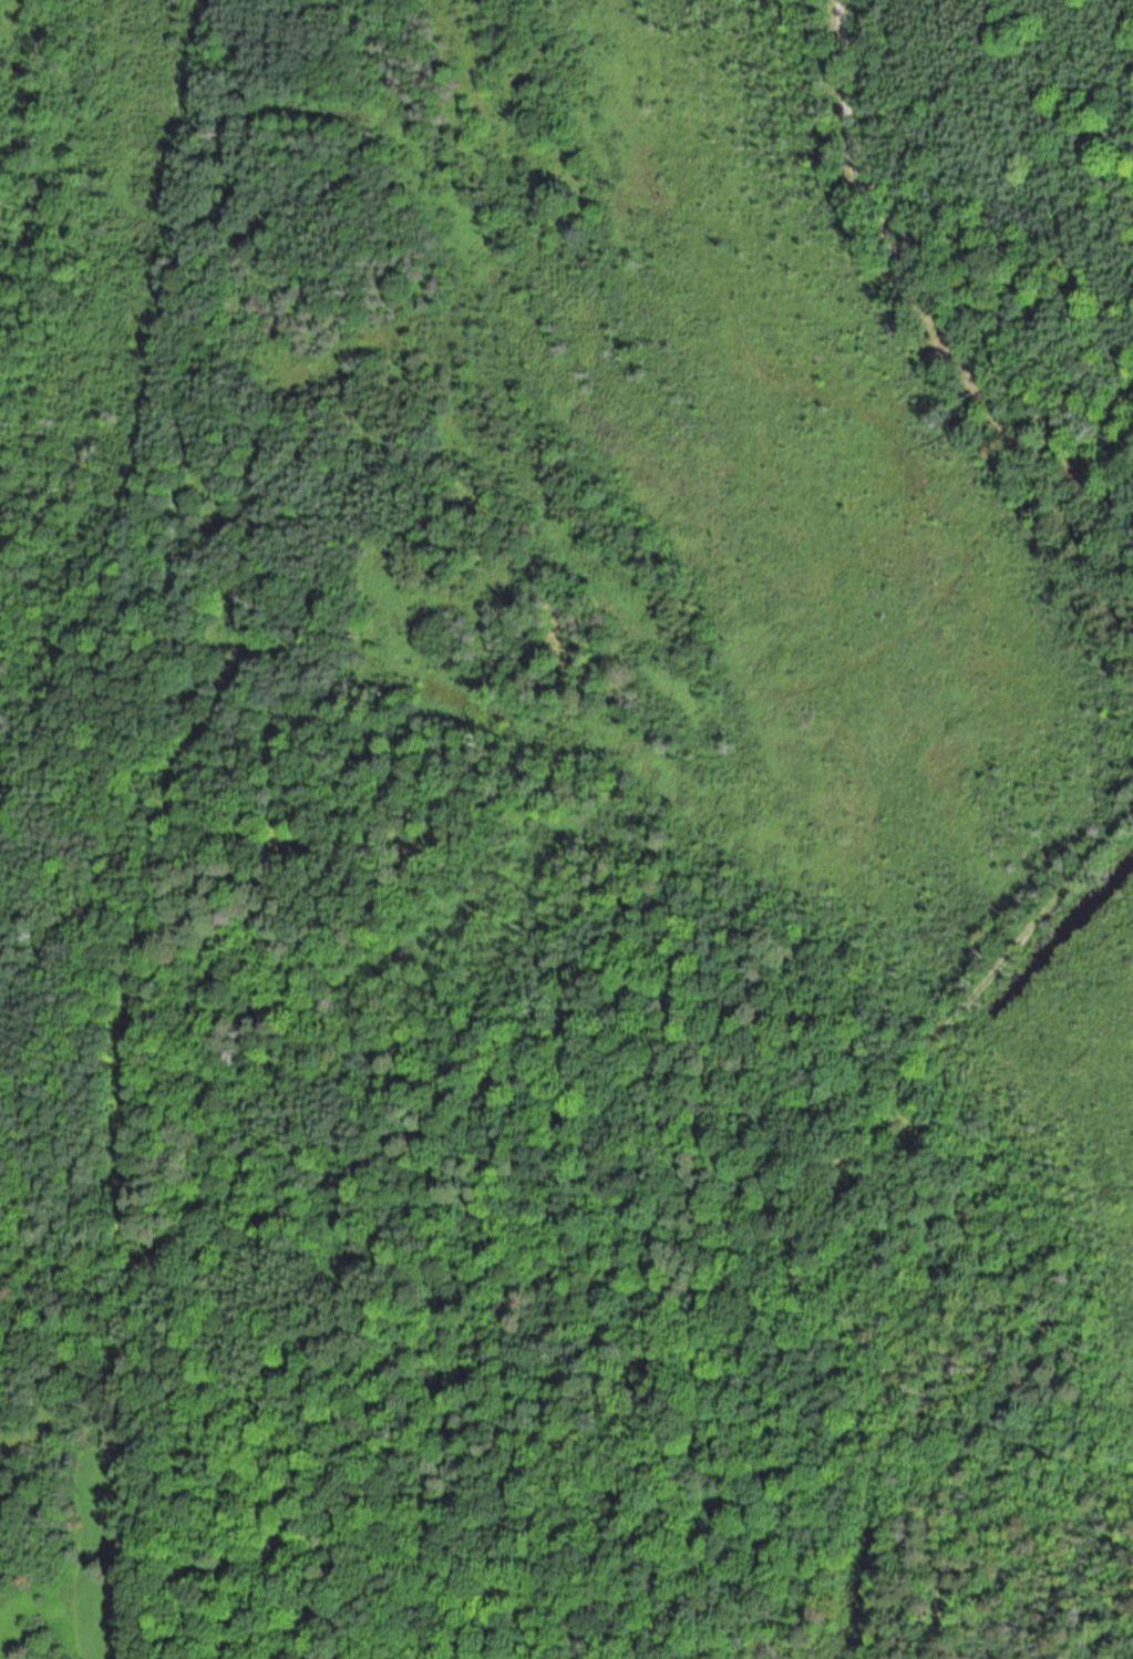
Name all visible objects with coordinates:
road: (939, 327)

